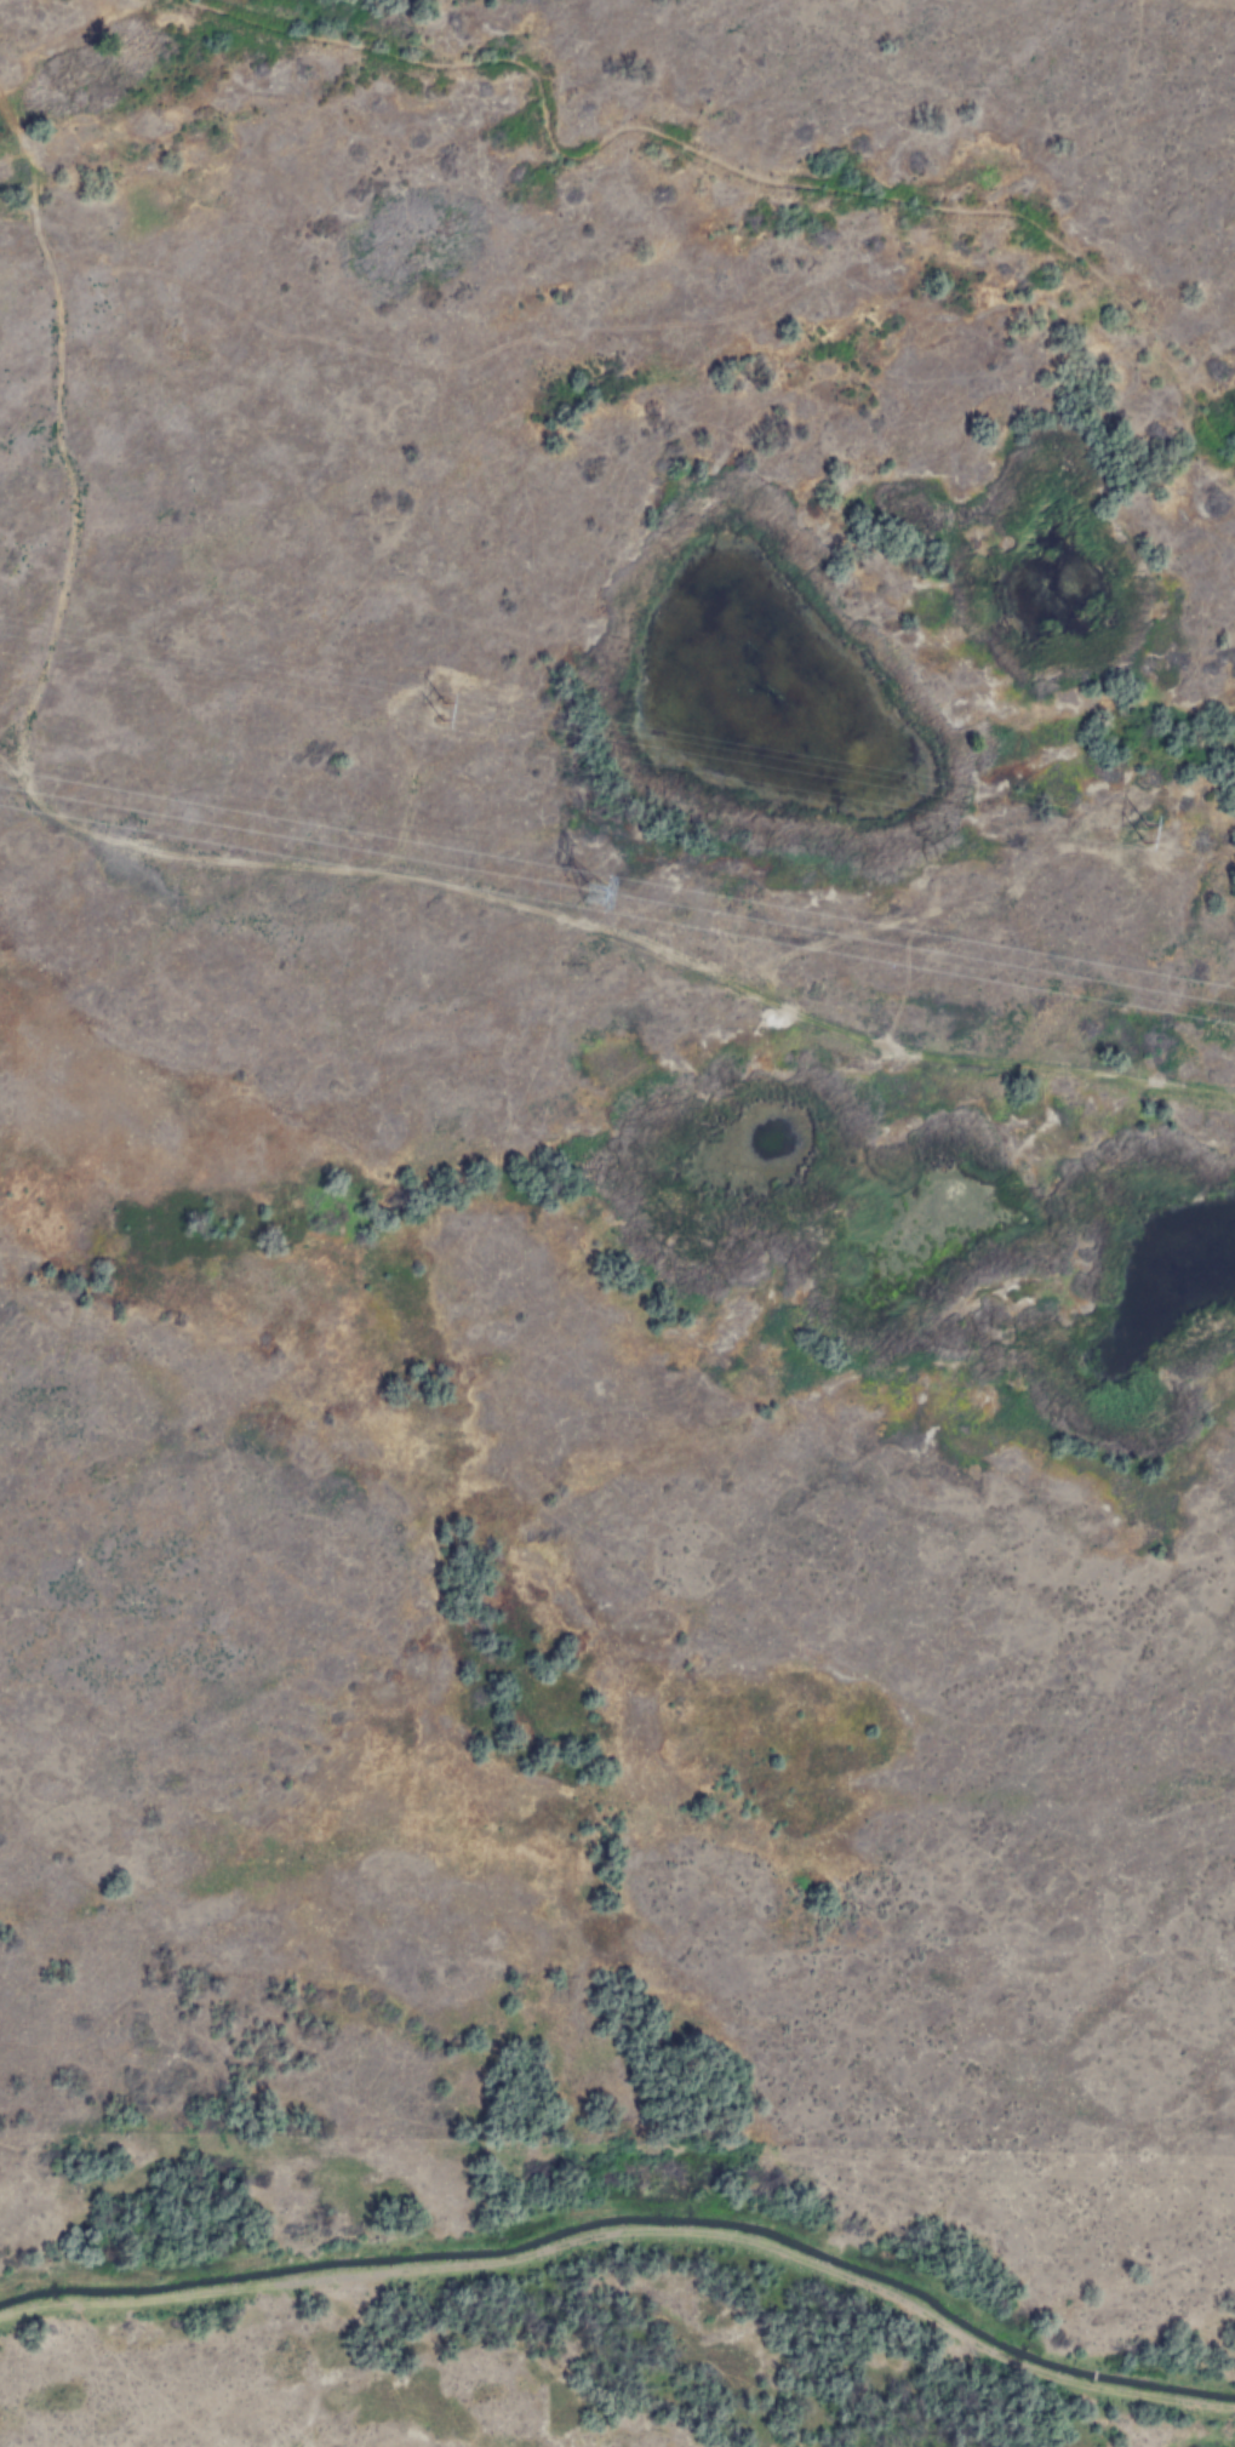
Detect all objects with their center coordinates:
power tower: (613, 884)

